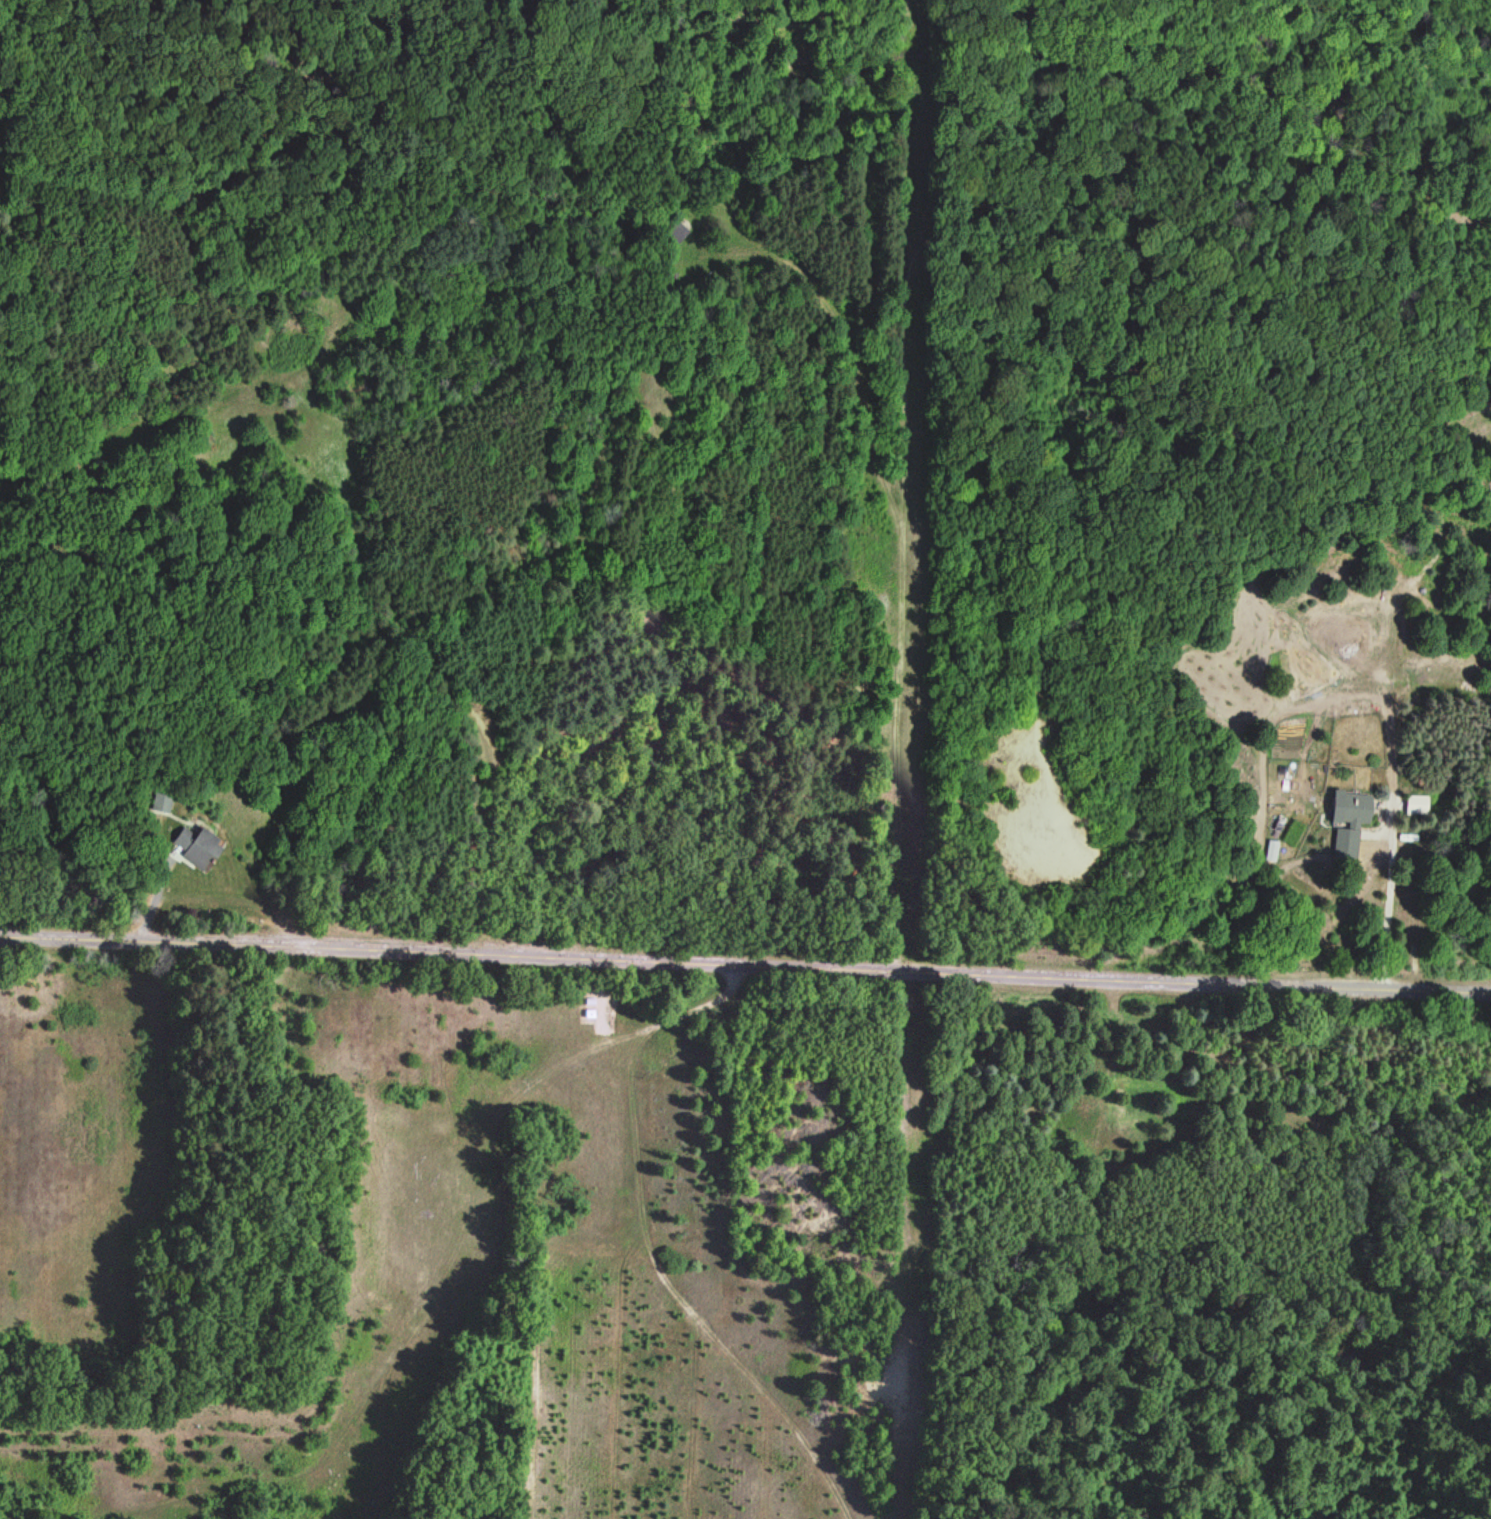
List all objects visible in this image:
building: (679, 230)
building: (439, 346)
building: (160, 803)
building: (1417, 805)
building: (1354, 808)
building: (194, 846)
road: (745, 963)

